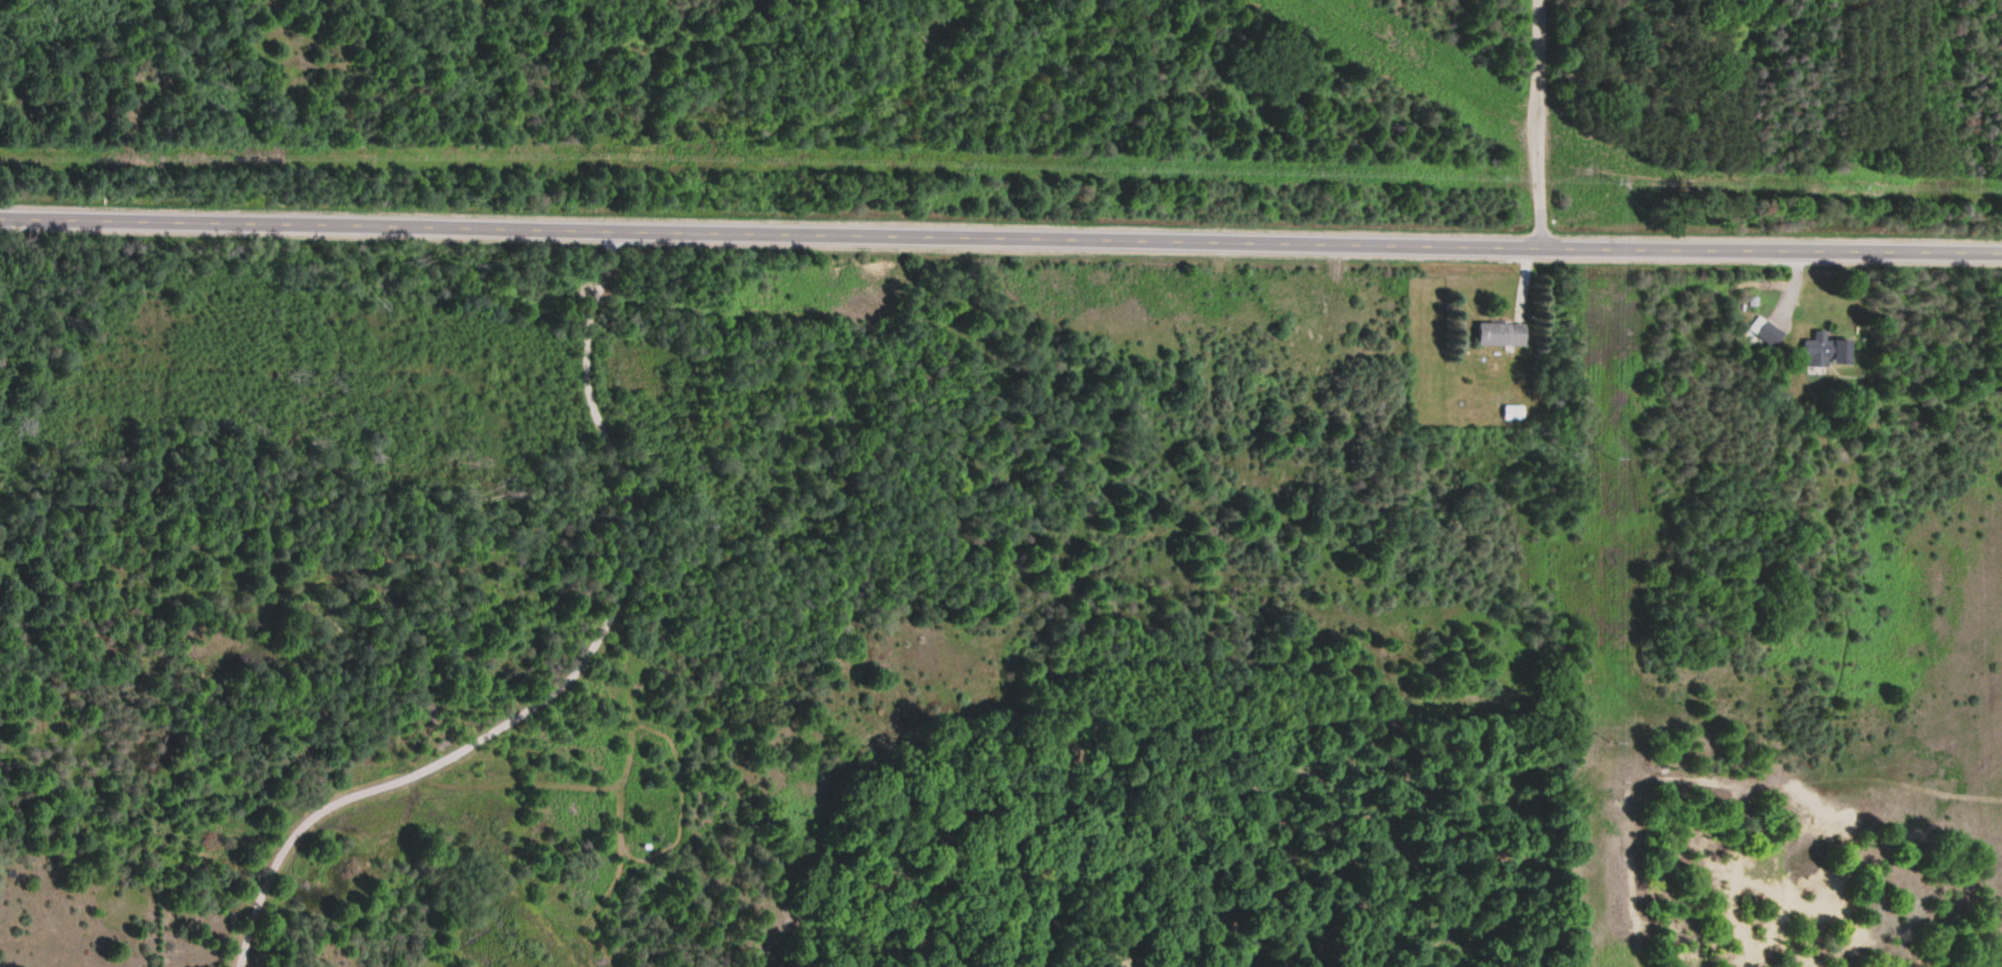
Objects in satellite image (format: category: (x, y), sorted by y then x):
road: (1534, 125)
road: (1000, 239)
building: (1501, 334)
building: (1512, 413)

